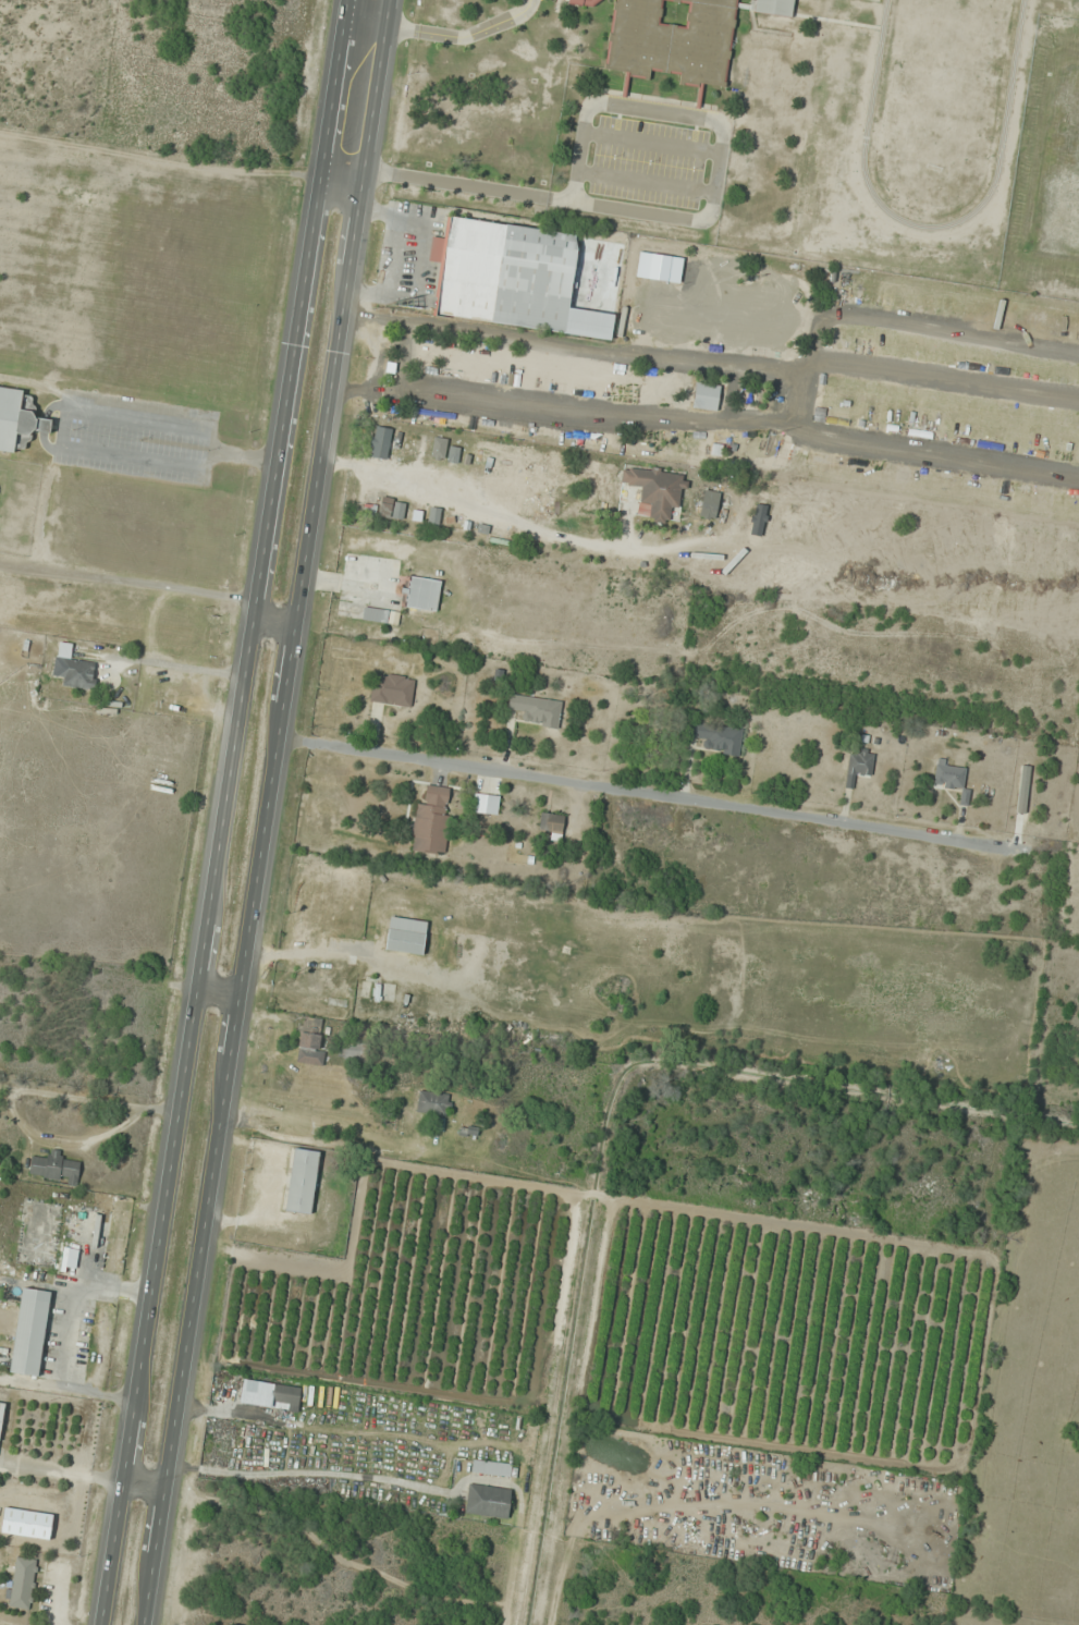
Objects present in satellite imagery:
road: (440, 34)
building: (770, 40)
road: (505, 193)
building: (504, 274)
road: (556, 343)
building: (706, 398)
building: (19, 419)
building: (655, 489)
building: (758, 520)
building: (702, 560)
building: (734, 562)
building: (422, 594)
road: (274, 621)
building: (76, 672)
building: (392, 689)
building: (536, 710)
building: (719, 737)
building: (858, 765)
building: (948, 775)
road: (649, 793)
building: (486, 804)
railway: (250, 811)
road: (224, 812)
road: (268, 812)
building: (432, 821)
building: (550, 824)
building: (406, 936)
road: (219, 990)
building: (311, 1041)
building: (353, 1052)
building: (426, 1105)
building: (469, 1132)
building: (54, 1168)
building: (302, 1181)
building: (30, 1332)
building: (271, 1395)
building: (1, 1414)
building: (494, 1468)
road: (144, 1482)
building: (488, 1501)
building: (23, 1583)

